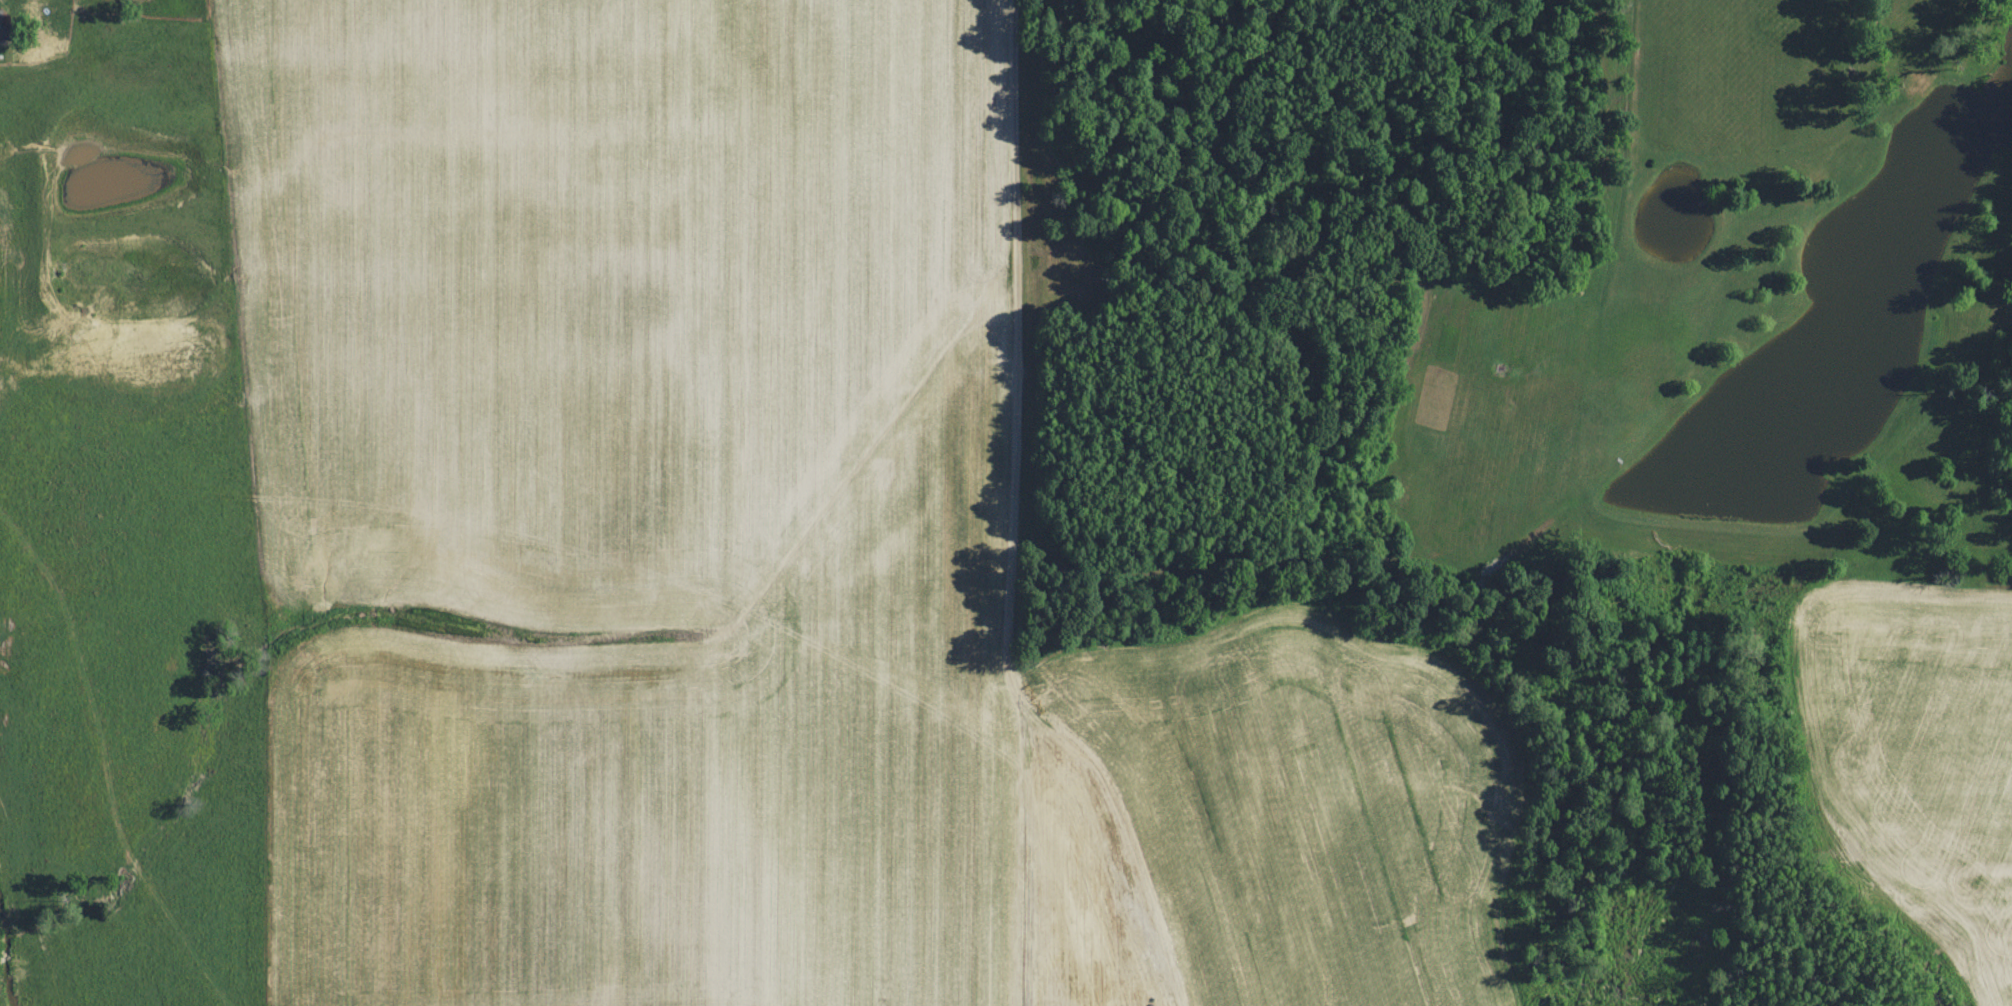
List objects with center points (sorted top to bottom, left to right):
building: (2, 24)

